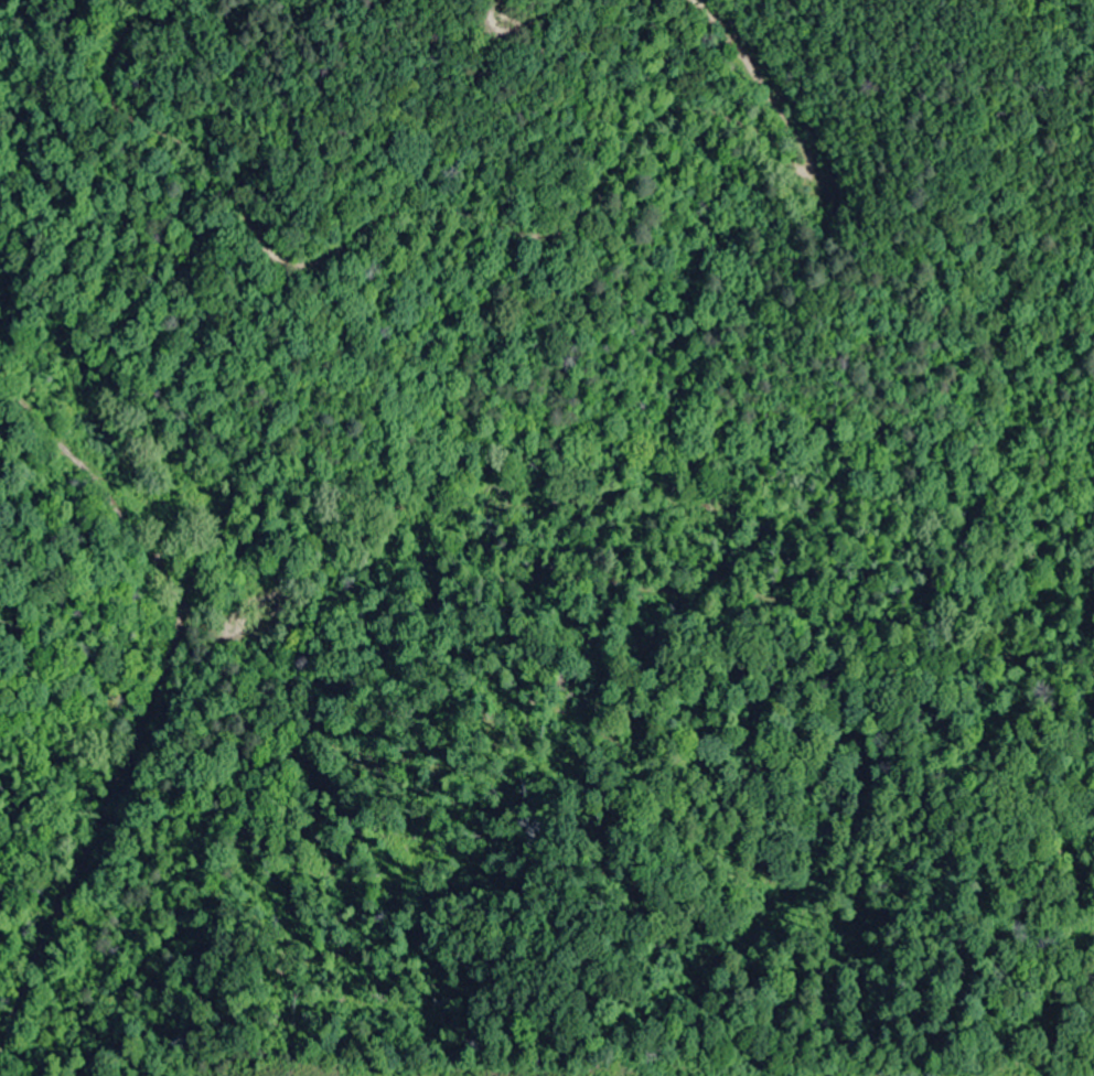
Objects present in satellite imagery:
road: (142, 740)

